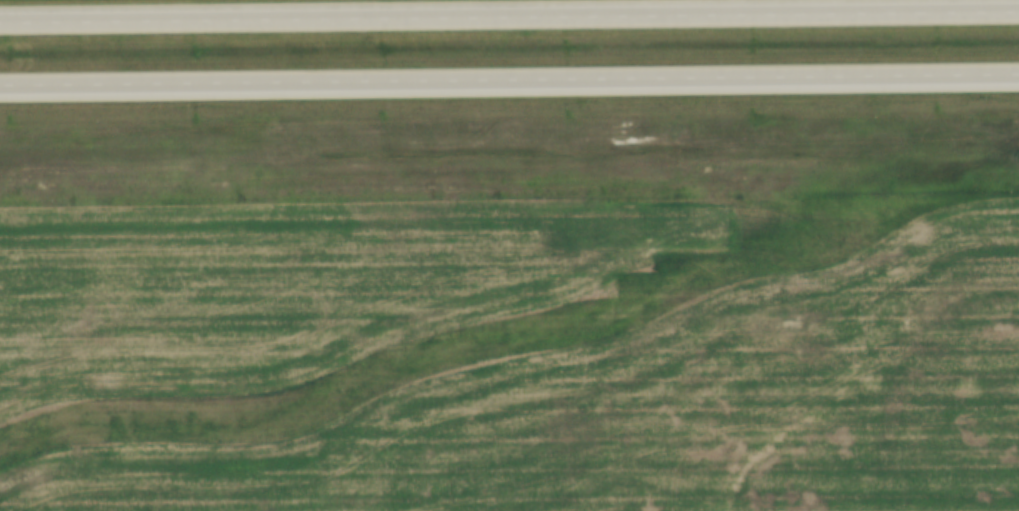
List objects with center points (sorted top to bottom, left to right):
road: (509, 12)
road: (509, 77)

